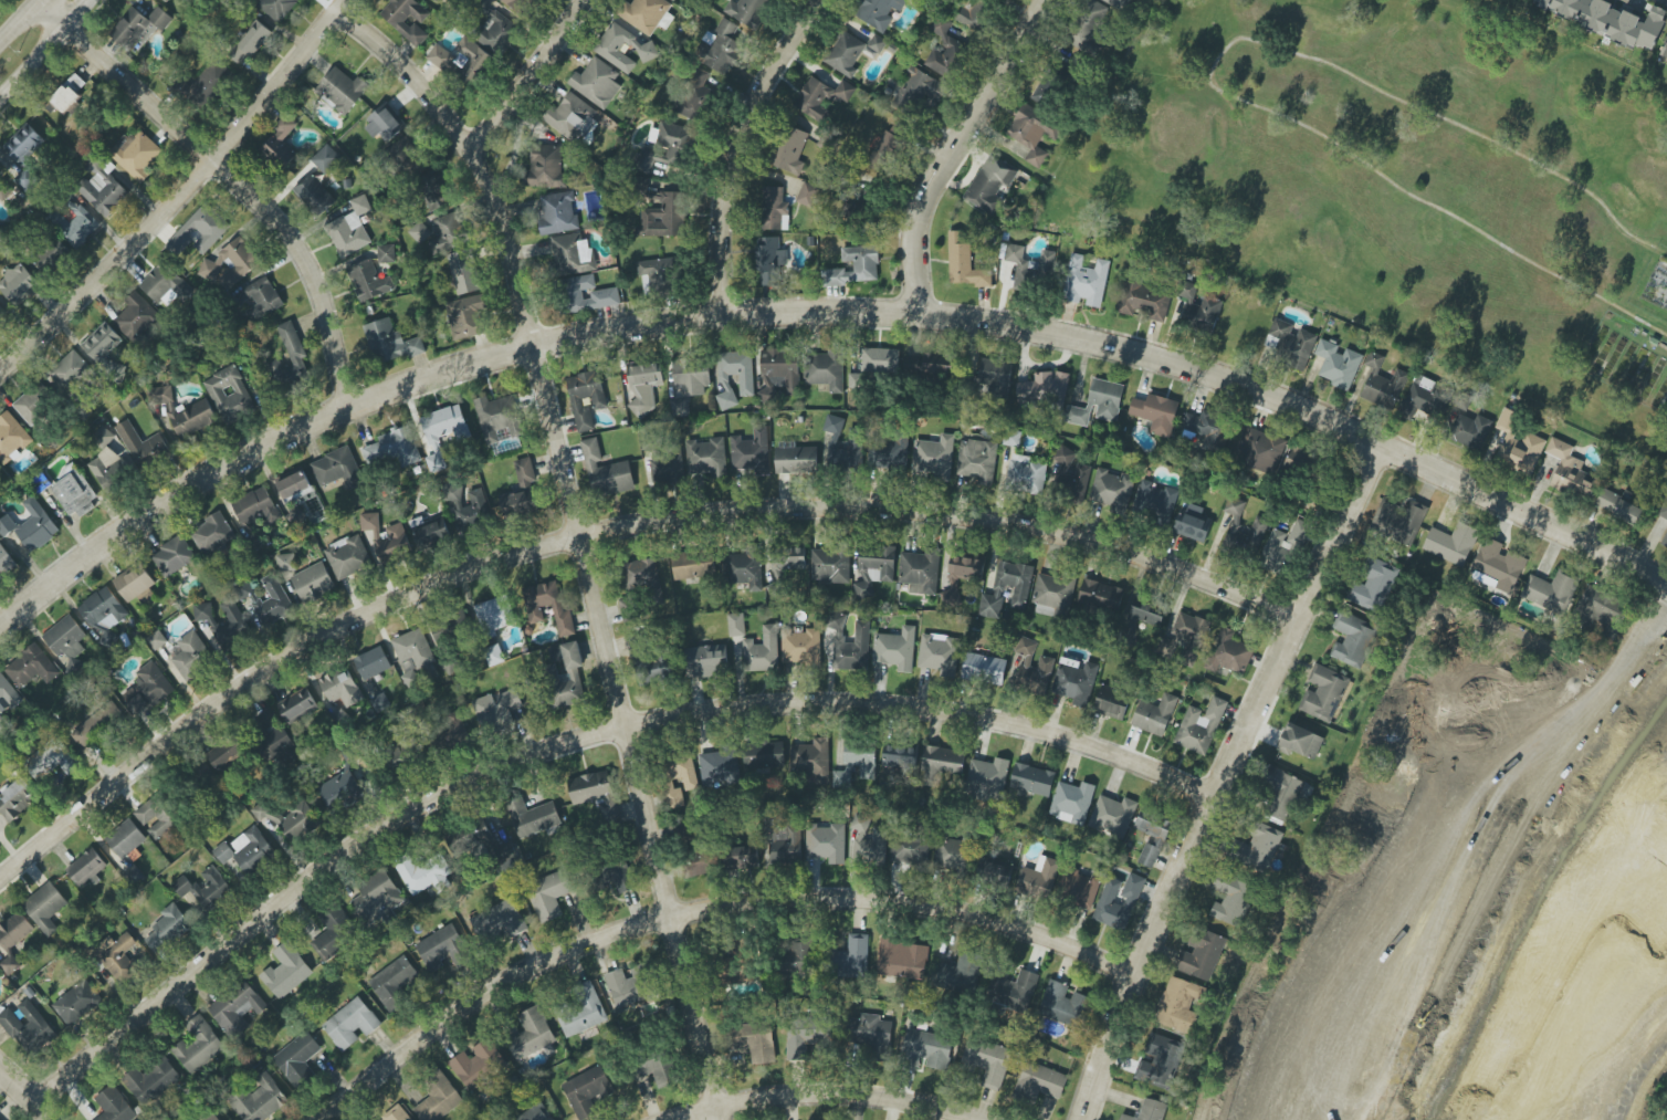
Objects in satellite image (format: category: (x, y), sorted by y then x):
building: (165, 0)
building: (434, 0)
building: (1111, 1)
building: (520, 6)
building: (747, 11)
building: (879, 12)
building: (973, 12)
building: (648, 14)
building: (406, 19)
road: (19, 20)
building: (1608, 20)
building: (139, 25)
building: (1091, 27)
building: (496, 32)
building: (251, 43)
building: (640, 46)
building: (874, 46)
road: (43, 48)
building: (720, 48)
building: (944, 51)
building: (1664, 51)
building: (845, 53)
building: (440, 56)
building: (472, 61)
road: (532, 75)
road: (1209, 75)
building: (596, 83)
building: (208, 85)
building: (918, 90)
building: (342, 91)
building: (1048, 92)
building: (67, 93)
building: (693, 95)
building: (822, 97)
building: (572, 118)
building: (384, 123)
building: (1034, 133)
building: (281, 143)
building: (663, 147)
road: (740, 148)
road: (951, 148)
building: (790, 150)
building: (883, 151)
building: (24, 155)
building: (136, 155)
building: (326, 158)
building: (407, 158)
building: (546, 166)
road: (231, 180)
building: (989, 185)
park: (1420, 186)
building: (104, 191)
road: (177, 191)
building: (432, 192)
building: (2, 195)
building: (314, 195)
building: (807, 195)
building: (775, 209)
building: (559, 212)
building: (664, 216)
building: (81, 228)
building: (350, 229)
building: (450, 230)
building: (199, 231)
building: (419, 232)
building: (386, 253)
building: (573, 254)
building: (52, 257)
building: (769, 260)
building: (964, 261)
building: (230, 264)
building: (855, 266)
building: (1029, 266)
building: (465, 272)
building: (658, 274)
building: (368, 281)
building: (1086, 282)
building: (18, 283)
building: (165, 285)
building: (589, 294)
building: (261, 297)
building: (1143, 301)
building: (1197, 308)
building: (2, 312)
road: (820, 315)
building: (136, 317)
building: (466, 317)
building: (101, 342)
building: (390, 342)
building: (1290, 344)
building: (290, 358)
building: (1338, 364)
building: (876, 365)
building: (827, 369)
building: (936, 369)
building: (71, 370)
building: (779, 374)
building: (996, 376)
building: (745, 380)
building: (689, 384)
building: (1382, 384)
building: (643, 386)
building: (1044, 388)
building: (229, 394)
building: (161, 395)
building: (1422, 397)
building: (586, 398)
building: (1098, 402)
building: (33, 405)
building: (1156, 412)
building: (193, 417)
building: (497, 419)
building: (443, 430)
building: (1207, 430)
building: (1471, 431)
building: (104, 435)
building: (11, 438)
building: (141, 443)
building: (1518, 443)
building: (843, 444)
building: (394, 448)
building: (1260, 451)
building: (751, 452)
building: (889, 454)
building: (933, 456)
building: (706, 457)
building: (796, 460)
building: (1302, 460)
building: (977, 461)
building: (337, 468)
building: (108, 469)
building: (667, 470)
building: (1570, 470)
building: (606, 471)
building: (1072, 473)
building: (1026, 474)
building: (296, 486)
building: (1111, 489)
building: (521, 492)
building: (73, 493)
building: (1155, 501)
building: (255, 506)
building: (1618, 506)
building: (472, 510)
building: (1663, 510)
building: (1193, 524)
building: (1405, 524)
building: (7, 526)
building: (36, 526)
building: (1243, 528)
building: (429, 531)
building: (211, 533)
road: (607, 534)
road: (580, 536)
building: (387, 537)
building: (1665, 540)
building: (1451, 543)
building: (1283, 547)
building: (174, 556)
building: (347, 556)
building: (6, 562)
building: (286, 563)
building: (690, 565)
building: (830, 566)
building: (1497, 566)
building: (874, 568)
building: (743, 569)
building: (920, 572)
building: (961, 575)
building: (313, 582)
building: (135, 584)
building: (1373, 585)
building: (1020, 590)
building: (1551, 592)
building: (1094, 593)
building: (1052, 595)
building: (268, 599)
building: (1600, 607)
building: (534, 608)
building: (103, 610)
building: (629, 610)
building: (497, 614)
building: (207, 622)
building: (736, 625)
building: (447, 631)
building: (65, 637)
building: (1186, 638)
building: (1352, 639)
building: (157, 640)
building: (850, 645)
building: (801, 646)
building: (895, 649)
road: (1636, 650)
building: (762, 651)
building: (1229, 652)
building: (555, 653)
building: (937, 653)
building: (191, 655)
building: (412, 655)
building: (493, 656)
building: (705, 661)
building: (371, 662)
building: (1046, 662)
building: (31, 667)
building: (984, 669)
building: (568, 678)
building: (1074, 681)
building: (340, 688)
building: (147, 689)
building: (1323, 693)
building: (7, 694)
building: (297, 705)
building: (1109, 706)
building: (496, 708)
road: (1636, 712)
building: (1154, 714)
river: (1645, 722)
building: (97, 724)
building: (1201, 725)
building: (452, 734)
building: (273, 740)
road: (580, 740)
building: (1300, 741)
building: (226, 753)
building: (401, 753)
building: (763, 755)
building: (900, 757)
building: (810, 760)
building: (941, 762)
building: (51, 763)
building: (856, 764)
building: (719, 767)
building: (986, 777)
road: (1225, 777)
building: (1032, 779)
building: (690, 781)
building: (340, 786)
building: (595, 792)
building: (1281, 793)
building: (17, 799)
building: (1071, 802)
building: (158, 815)
building: (1113, 816)
building: (533, 817)
building: (287, 818)
building: (1152, 836)
building: (126, 840)
building: (462, 841)
building: (826, 844)
building: (786, 845)
building: (871, 847)
building: (1261, 847)
building: (245, 849)
building: (910, 850)
road: (1385, 850)
building: (951, 854)
building: (742, 857)
building: (703, 861)
building: (87, 868)
building: (422, 873)
building: (995, 873)
building: (619, 876)
building: (1039, 879)
building: (203, 888)
building: (1080, 888)
park: (1467, 890)
building: (549, 894)
building: (377, 896)
building: (1231, 899)
building: (1119, 901)
building: (45, 908)
road: (704, 911)
building: (499, 920)
building: (168, 928)
building: (14, 931)
building: (335, 933)
building: (441, 948)
building: (1201, 954)
building: (795, 955)
building: (118, 956)
building: (853, 956)
building: (902, 959)
building: (10, 964)
building: (286, 971)
building: (960, 973)
building: (394, 984)
building: (628, 988)
building: (1014, 991)
building: (76, 1002)
building: (1180, 1003)
building: (1062, 1004)
building: (237, 1009)
building: (581, 1012)
building: (350, 1024)
building: (28, 1027)
building: (871, 1032)
building: (531, 1034)
building: (806, 1035)
building: (754, 1040)
building: (198, 1046)
building: (927, 1049)
building: (297, 1059)
road: (1625, 1059)
building: (988, 1060)
building: (1158, 1061)
building: (478, 1064)
building: (651, 1067)
building: (151, 1080)
building: (1039, 1082)
road: (31, 1090)
building: (586, 1091)
building: (438, 1098)
road: (822, 1098)
building: (258, 1100)
building: (114, 1106)
building: (1149, 1111)
building: (535, 1113)
building: (397, 1114)
building: (209, 1117)

